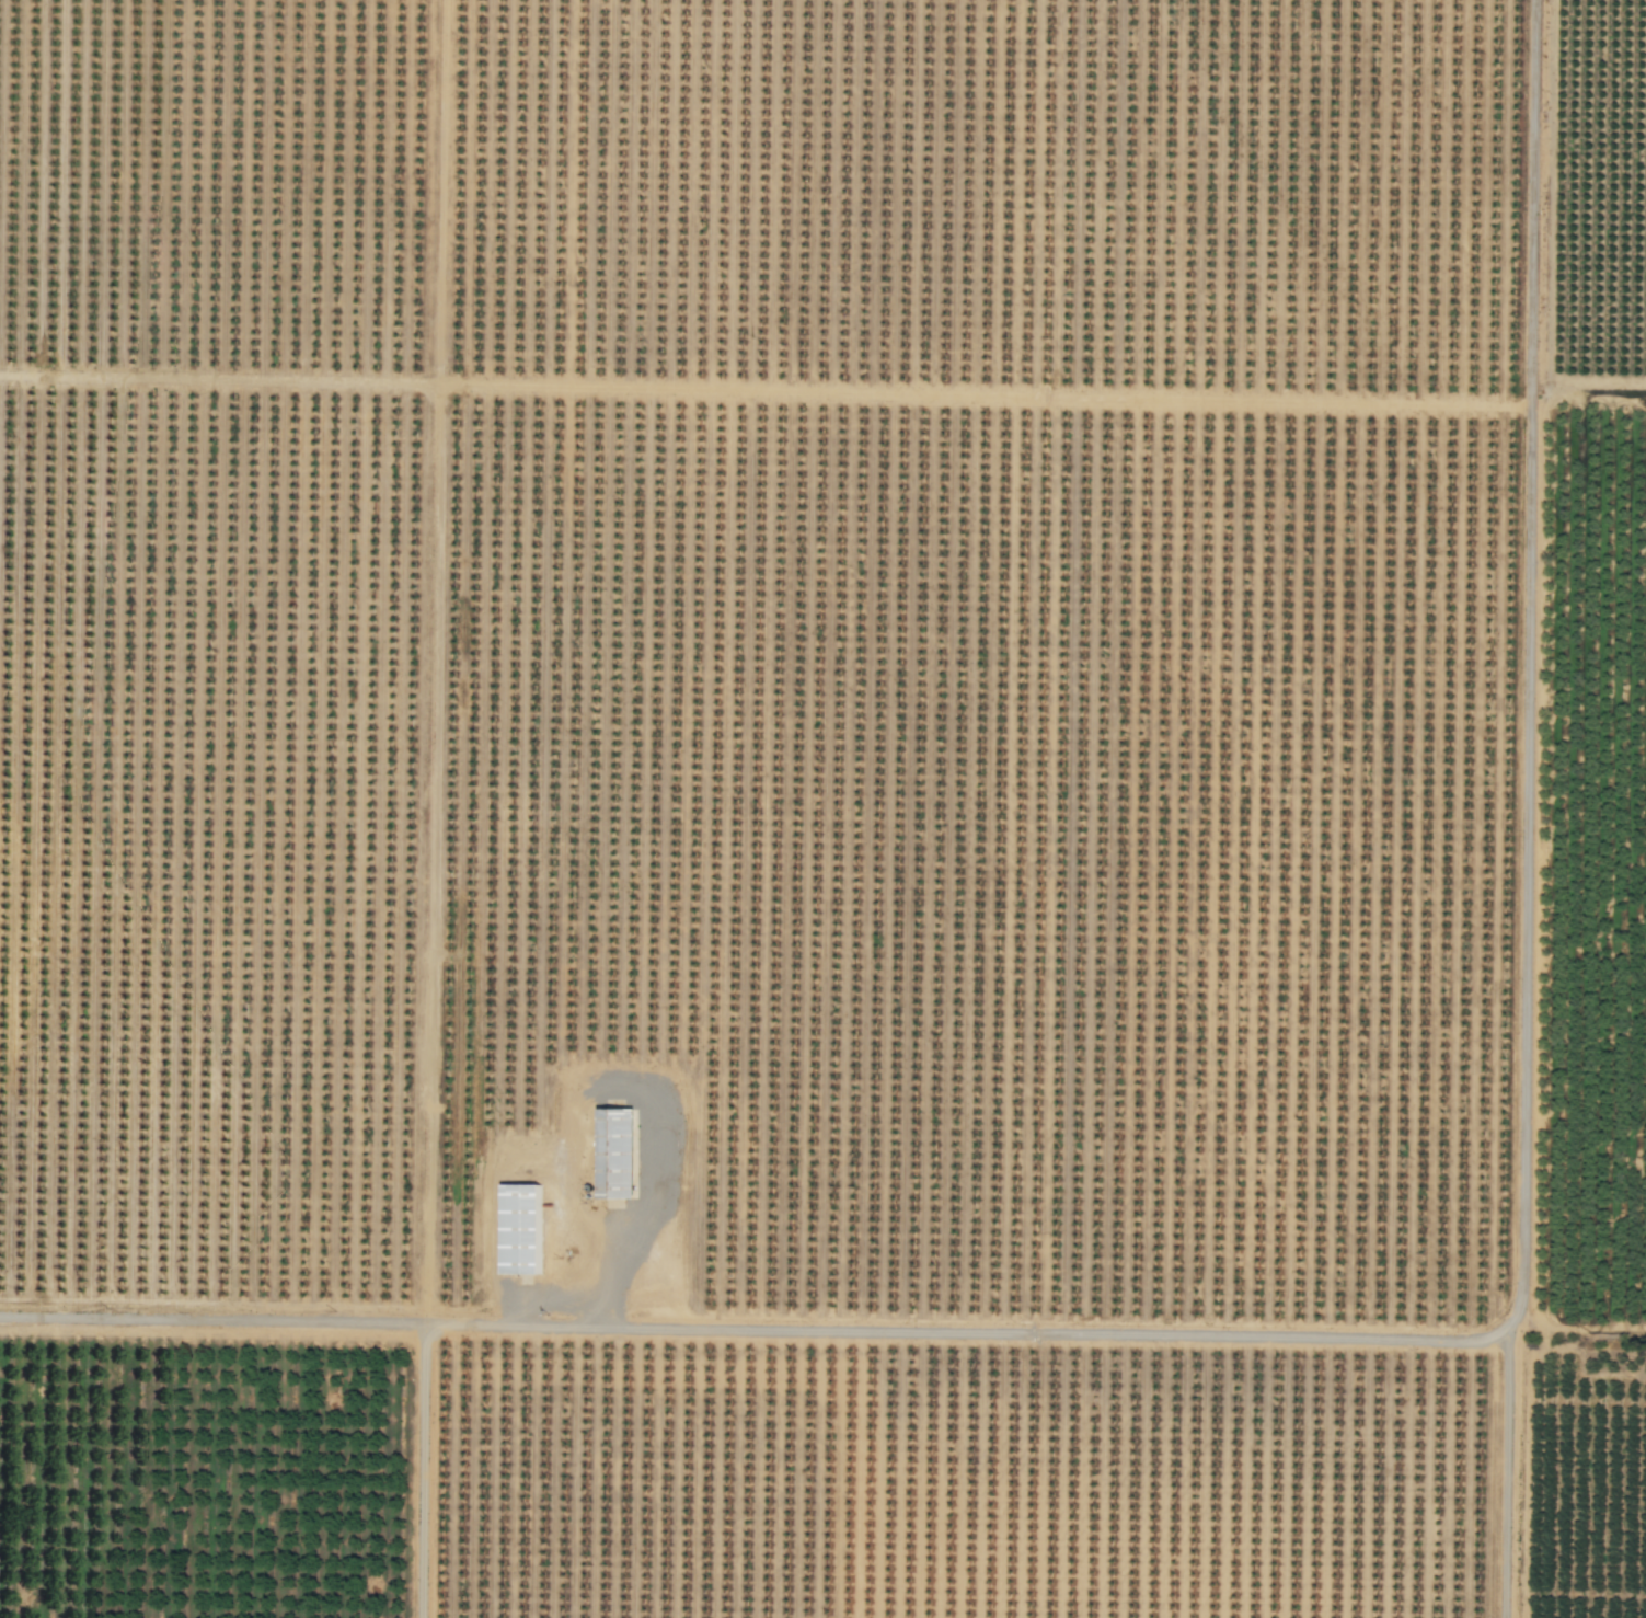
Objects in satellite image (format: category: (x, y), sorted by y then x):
building: (615, 1154)
building: (520, 1229)
road: (721, 1327)

